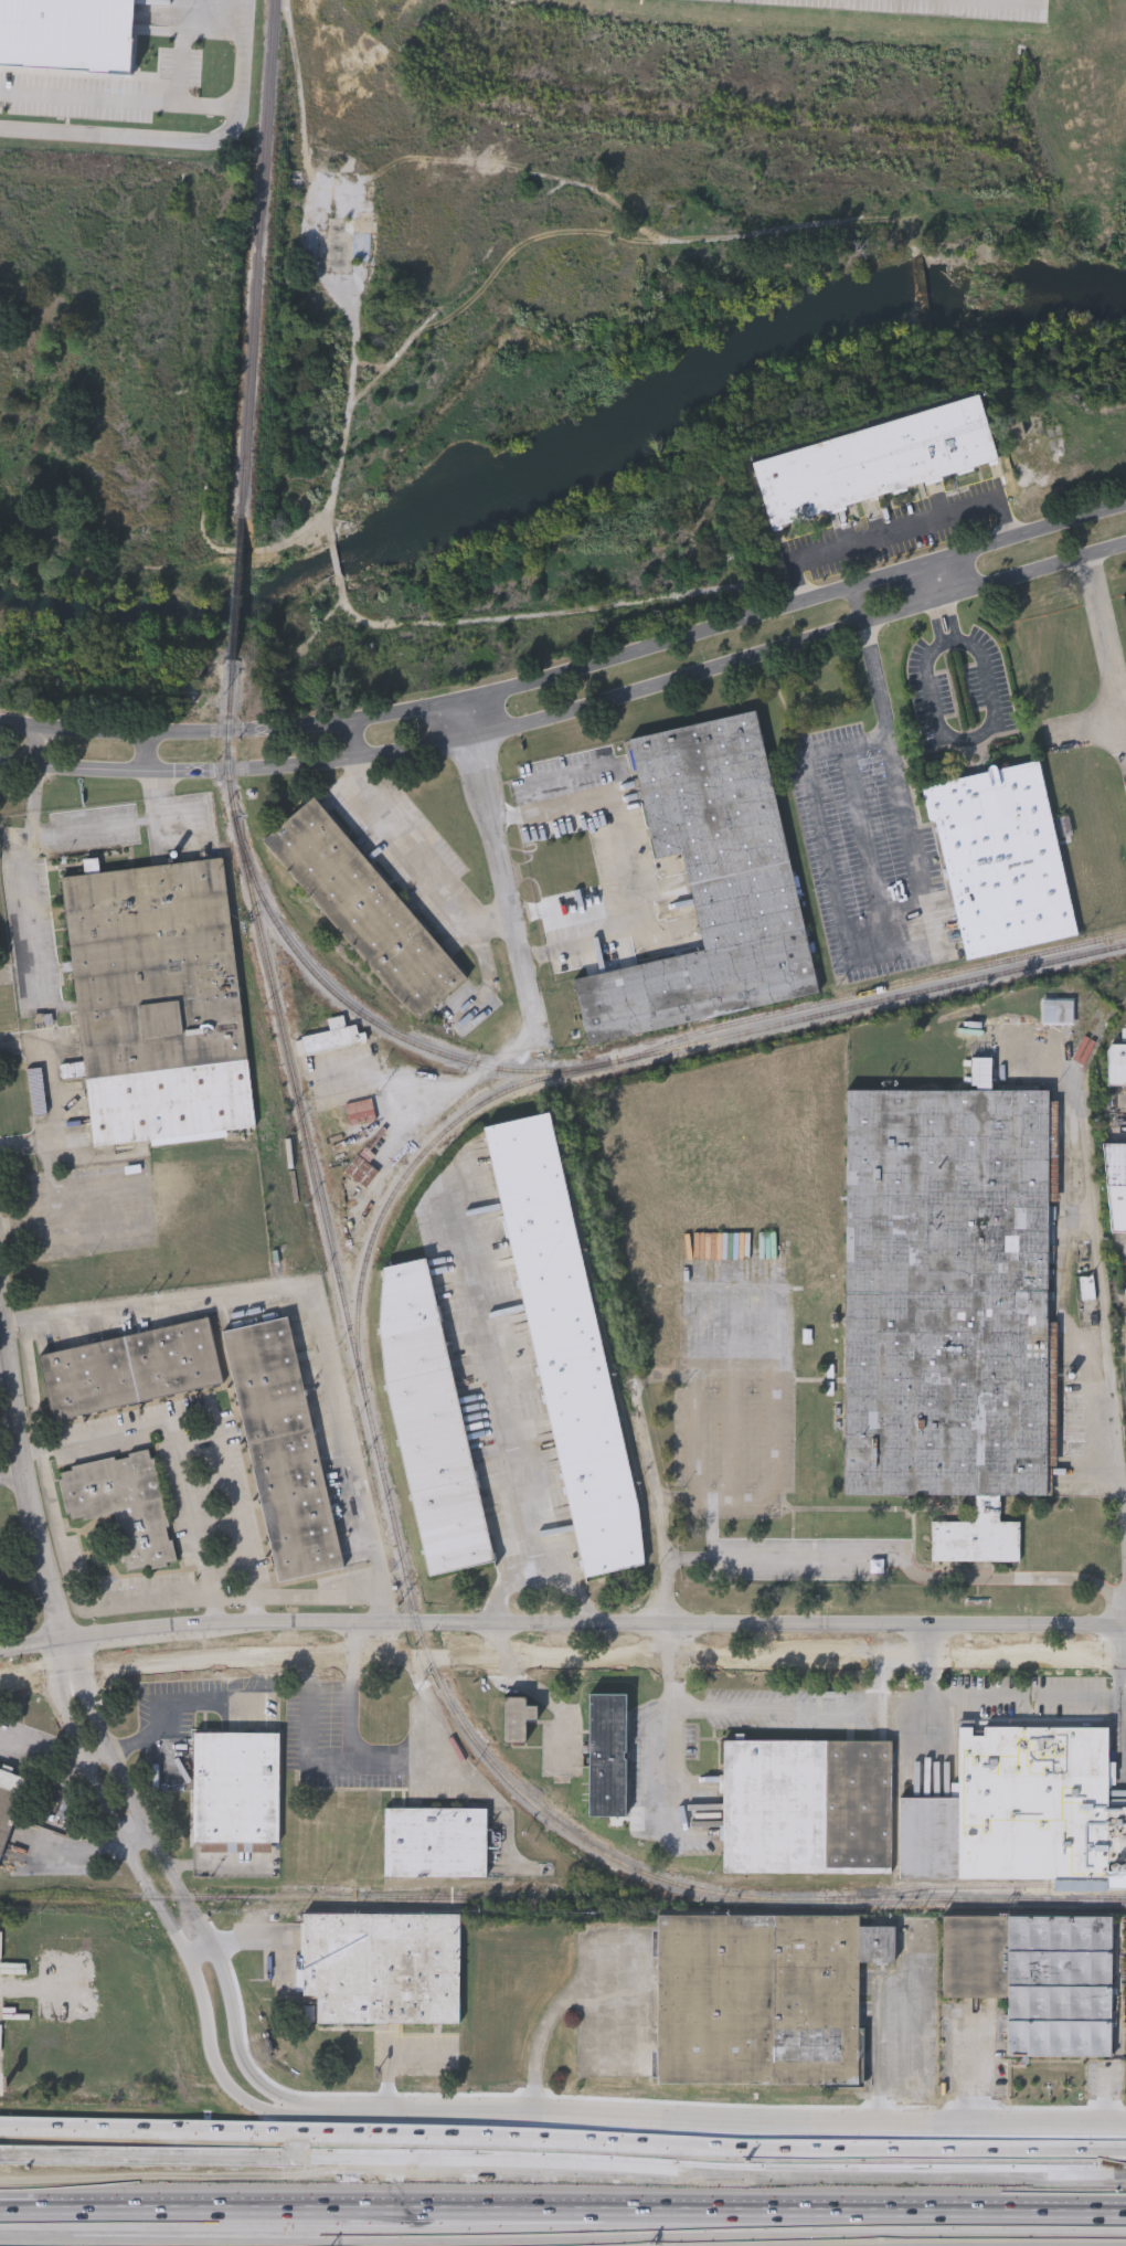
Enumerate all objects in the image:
road: (1010, 2)
building: (66, 38)
road: (243, 49)
road: (149, 102)
road: (99, 135)
building: (344, 248)
railway: (258, 259)
building: (873, 460)
road: (896, 530)
railway: (237, 593)
road: (947, 598)
road: (931, 604)
road: (1106, 642)
road: (572, 671)
road: (571, 711)
road: (976, 737)
road: (130, 823)
road: (400, 848)
building: (1001, 859)
road: (28, 860)
road: (499, 865)
road: (633, 867)
building: (710, 883)
building: (364, 909)
road: (918, 910)
road: (19, 971)
railway: (878, 990)
building: (157, 1003)
building: (1059, 1010)
building: (333, 1036)
railway: (629, 1057)
building: (1116, 1068)
road: (435, 1088)
road: (53, 1095)
railway: (407, 1175)
building: (1116, 1186)
road: (1105, 1284)
road: (1, 1301)
building: (949, 1306)
building: (566, 1346)
building: (130, 1370)
railway: (360, 1371)
road: (502, 1374)
building: (428, 1418)
road: (10, 1424)
road: (174, 1451)
building: (281, 1451)
road: (25, 1464)
road: (13, 1474)
road: (229, 1497)
building: (121, 1506)
road: (364, 1516)
road: (657, 1529)
road: (546, 1551)
road: (901, 1557)
road: (25, 1586)
road: (385, 1606)
road: (562, 1621)
road: (495, 1639)
road: (363, 1640)
road: (924, 1643)
road: (561, 1659)
road: (1119, 1677)
road: (880, 1685)
road: (1026, 1698)
road: (550, 1703)
road: (799, 1709)
building: (516, 1720)
road: (162, 1728)
road: (20, 1746)
building: (606, 1757)
road: (338, 1759)
road: (657, 1761)
road: (459, 1766)
building: (236, 1788)
building: (9, 1802)
building: (807, 1808)
building: (1015, 1809)
road: (138, 1841)
building: (437, 1843)
railway: (976, 1886)
road: (180, 1888)
railway: (375, 1898)
railway: (939, 1900)
road: (161, 1907)
road: (204, 1951)
building: (381, 1968)
building: (1035, 1978)
building: (761, 1999)
road: (903, 2052)
road: (975, 2070)
road: (719, 2120)
road: (563, 2132)
road: (562, 2201)

